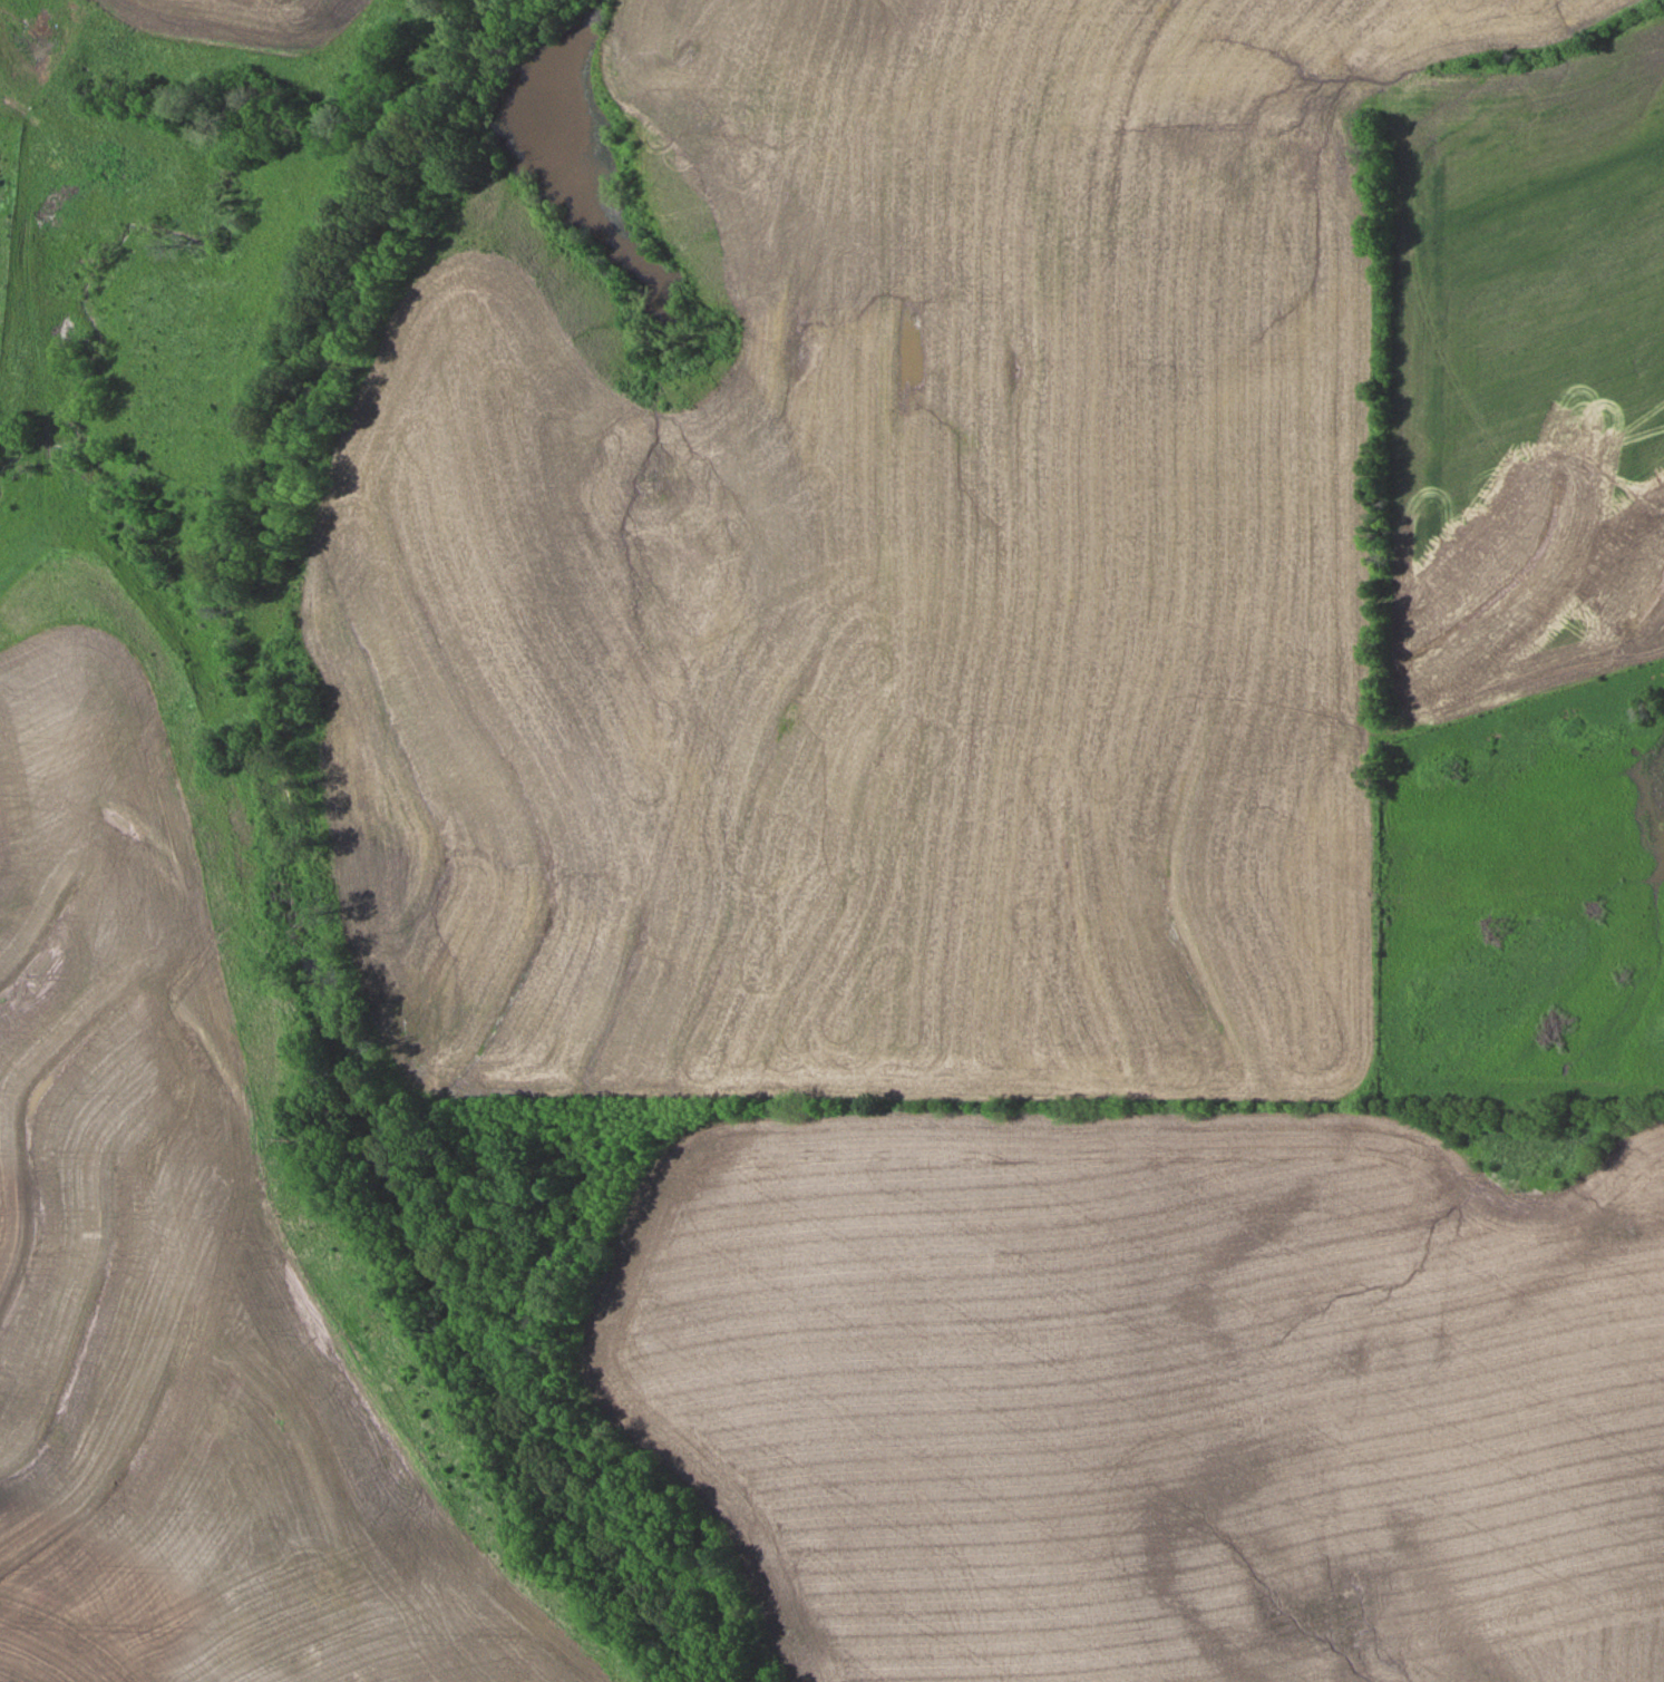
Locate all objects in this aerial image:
crop: (242, 19)
crop: (172, 1282)
crop: (1150, 1392)

